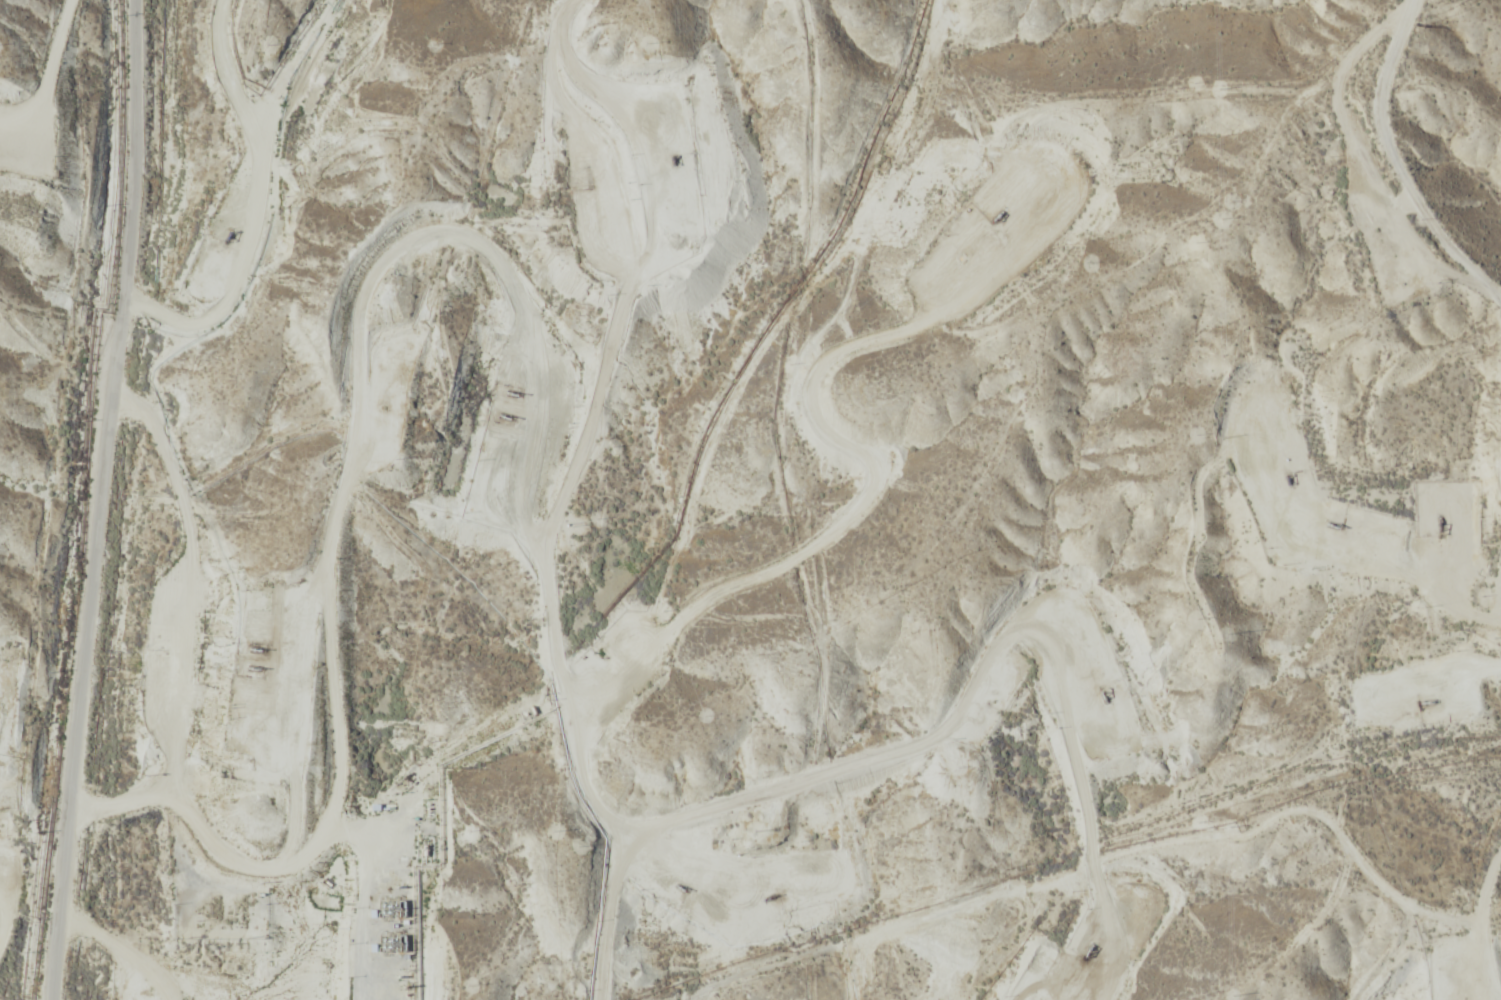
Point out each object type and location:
road: (16, 40)
road: (1409, 165)
road: (71, 499)
road: (502, 499)
road: (782, 765)
road: (1481, 925)

